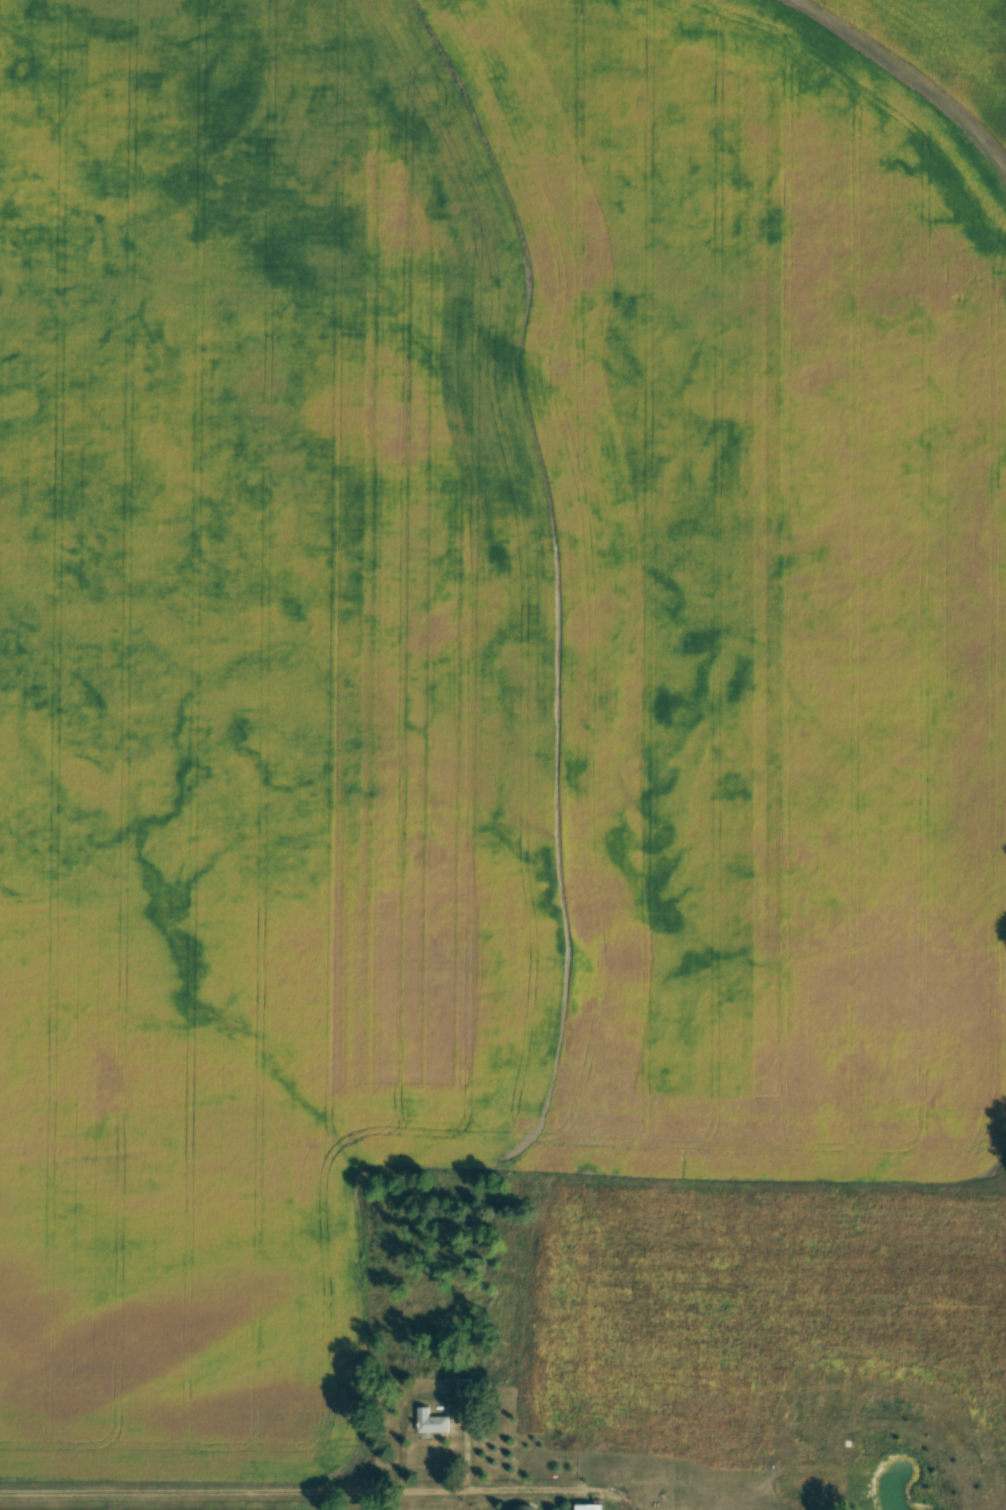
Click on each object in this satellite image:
building: (463, 1388)
building: (431, 1424)
road: (266, 1489)
building: (587, 1508)
building: (524, 1509)

